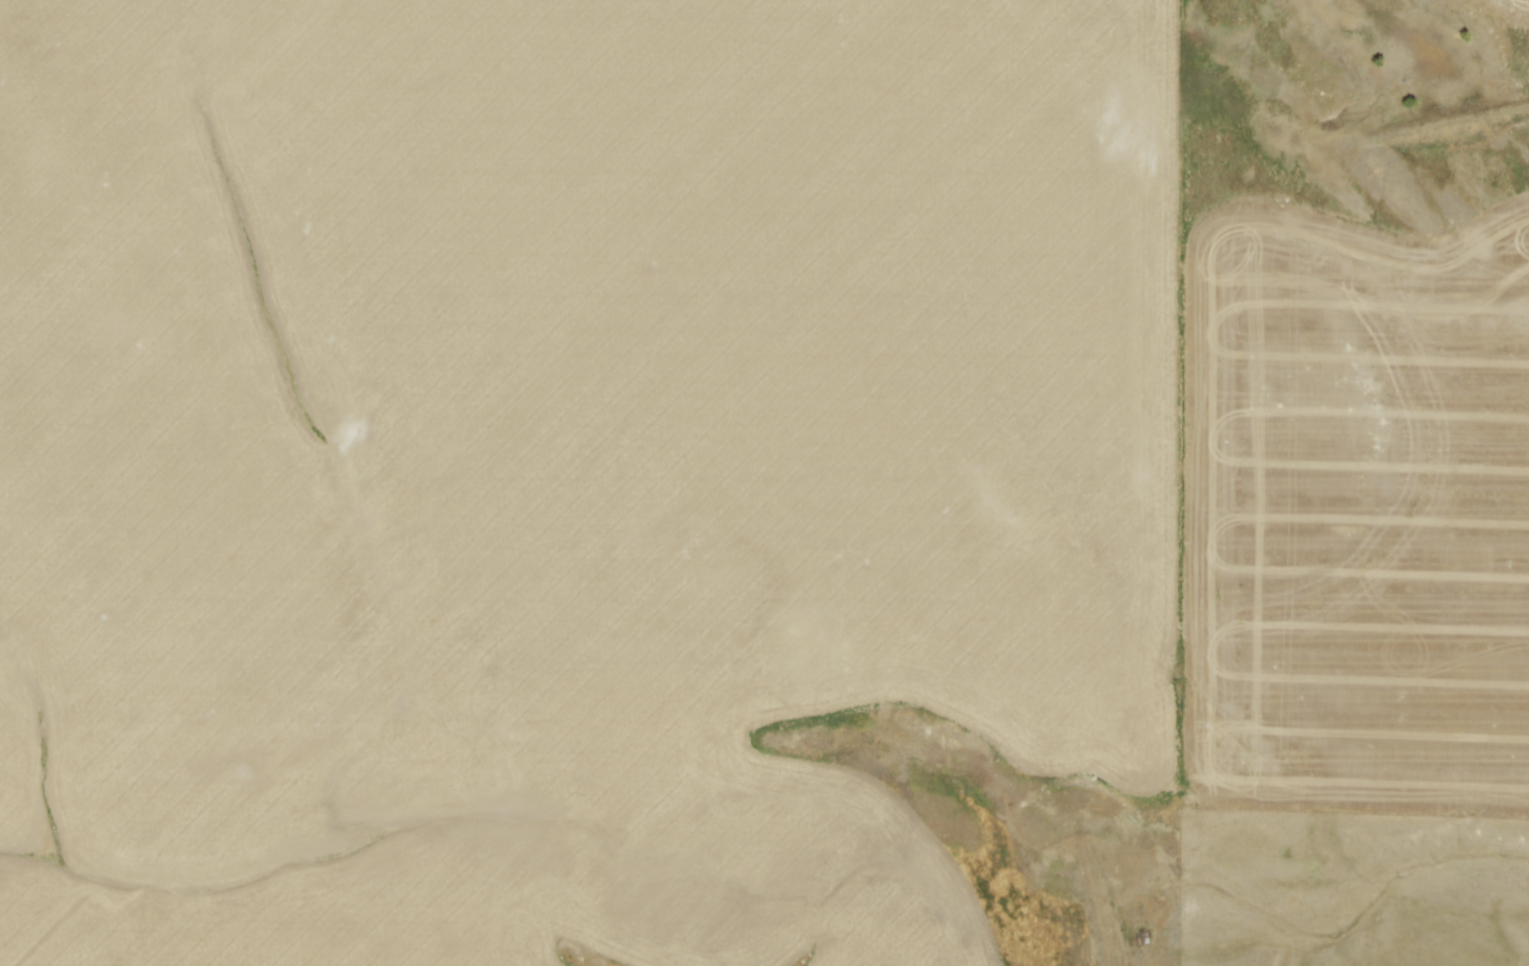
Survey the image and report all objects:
crop: (1512, 9)
dam: (1453, 123)
crop: (692, 472)
dam: (1099, 908)

